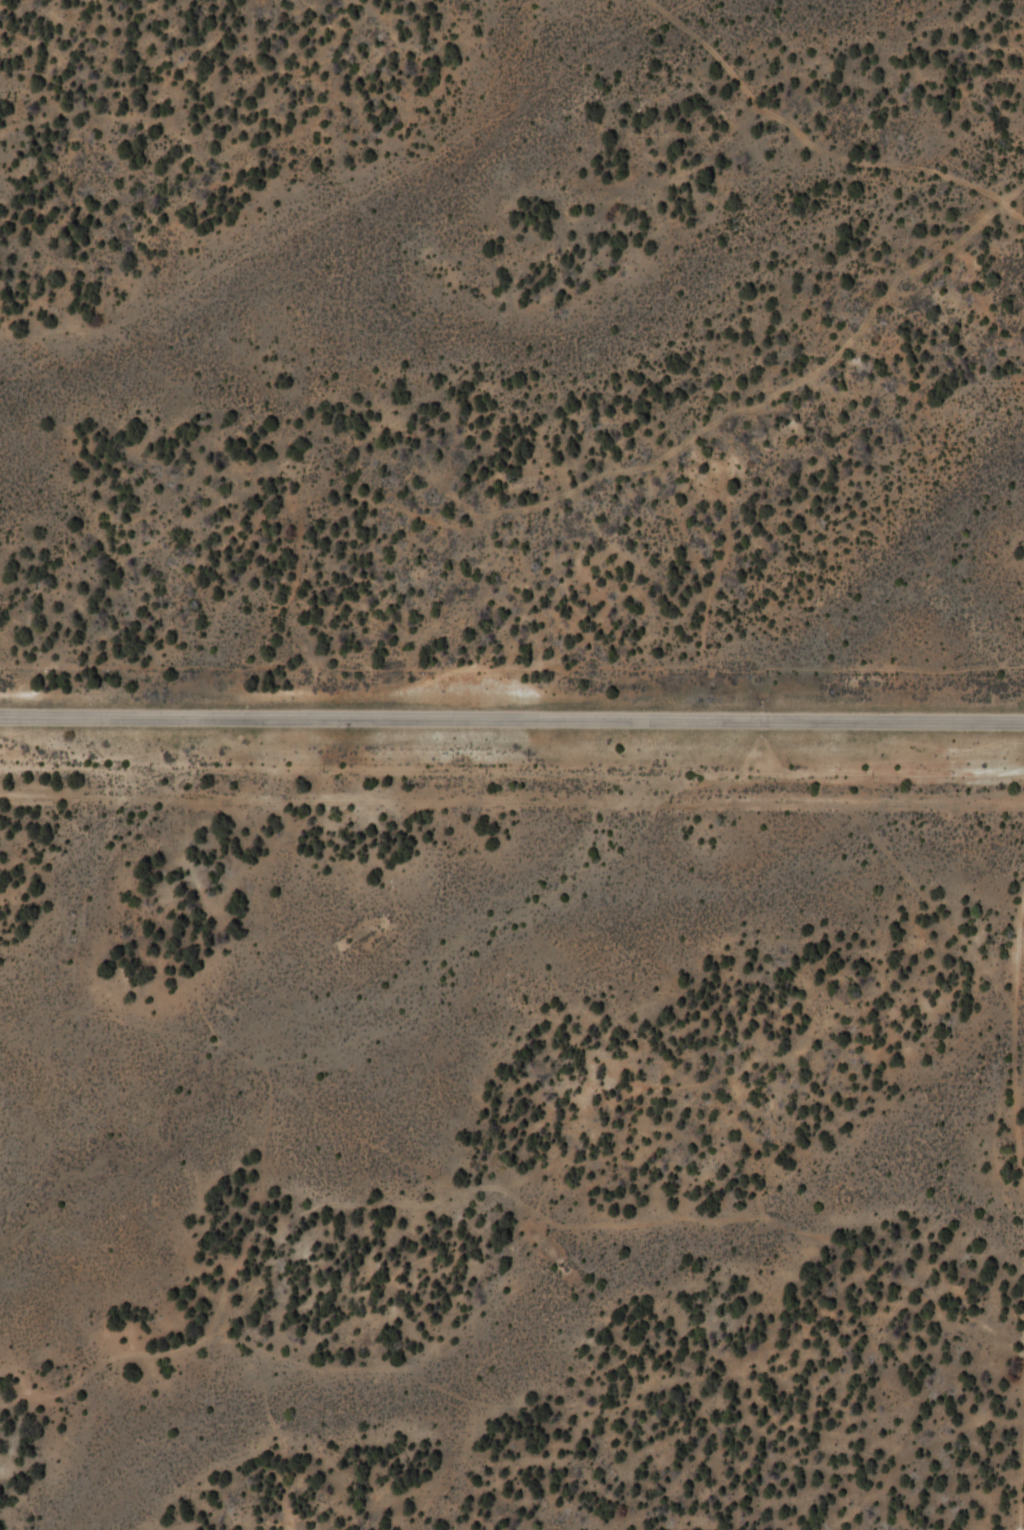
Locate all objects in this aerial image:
road: (512, 710)

